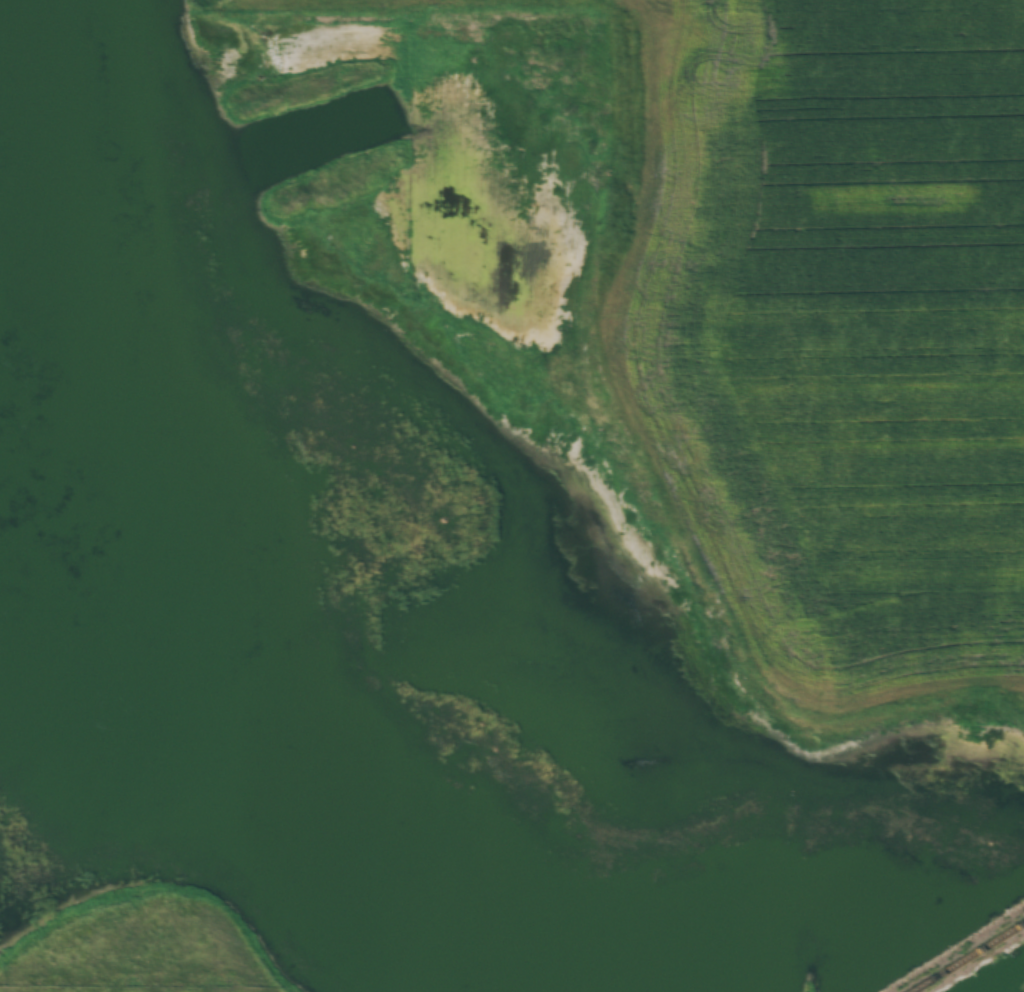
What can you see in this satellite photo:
railway: (972, 960)

